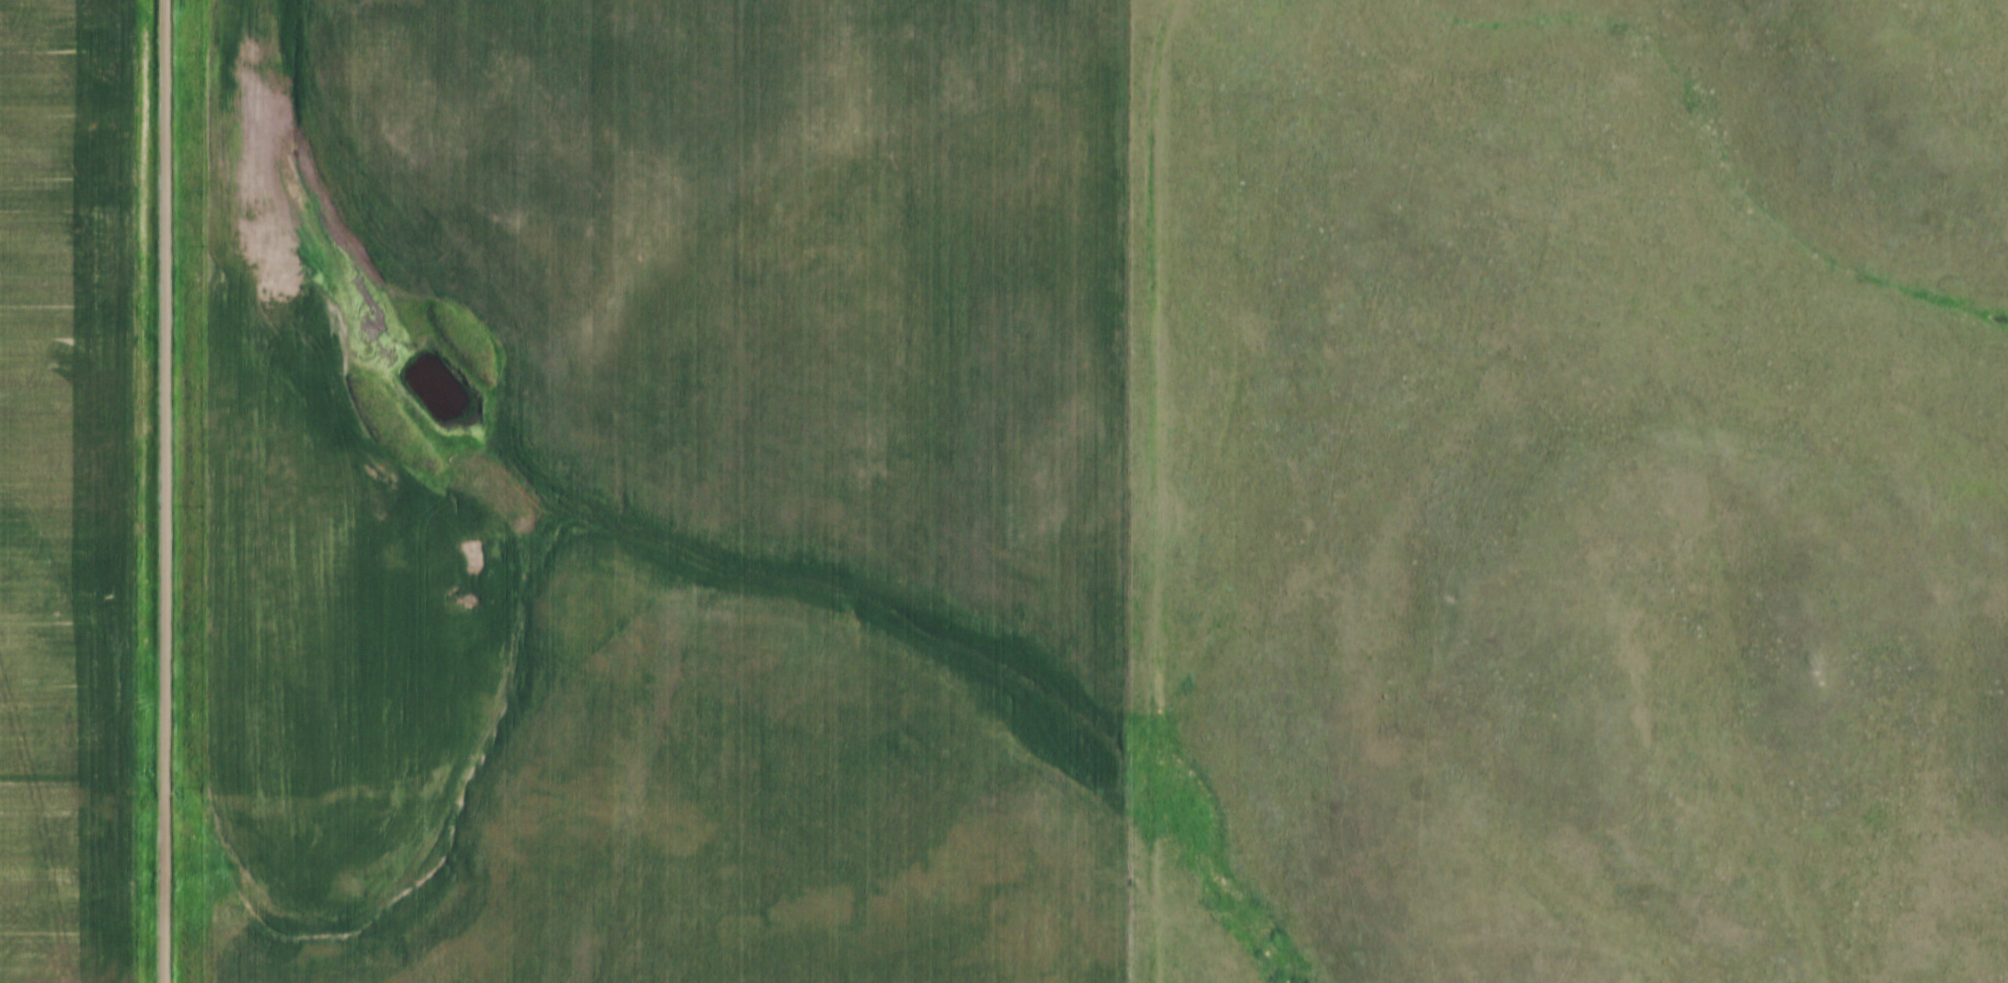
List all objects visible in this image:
road: (1146, 489)
road: (162, 491)

